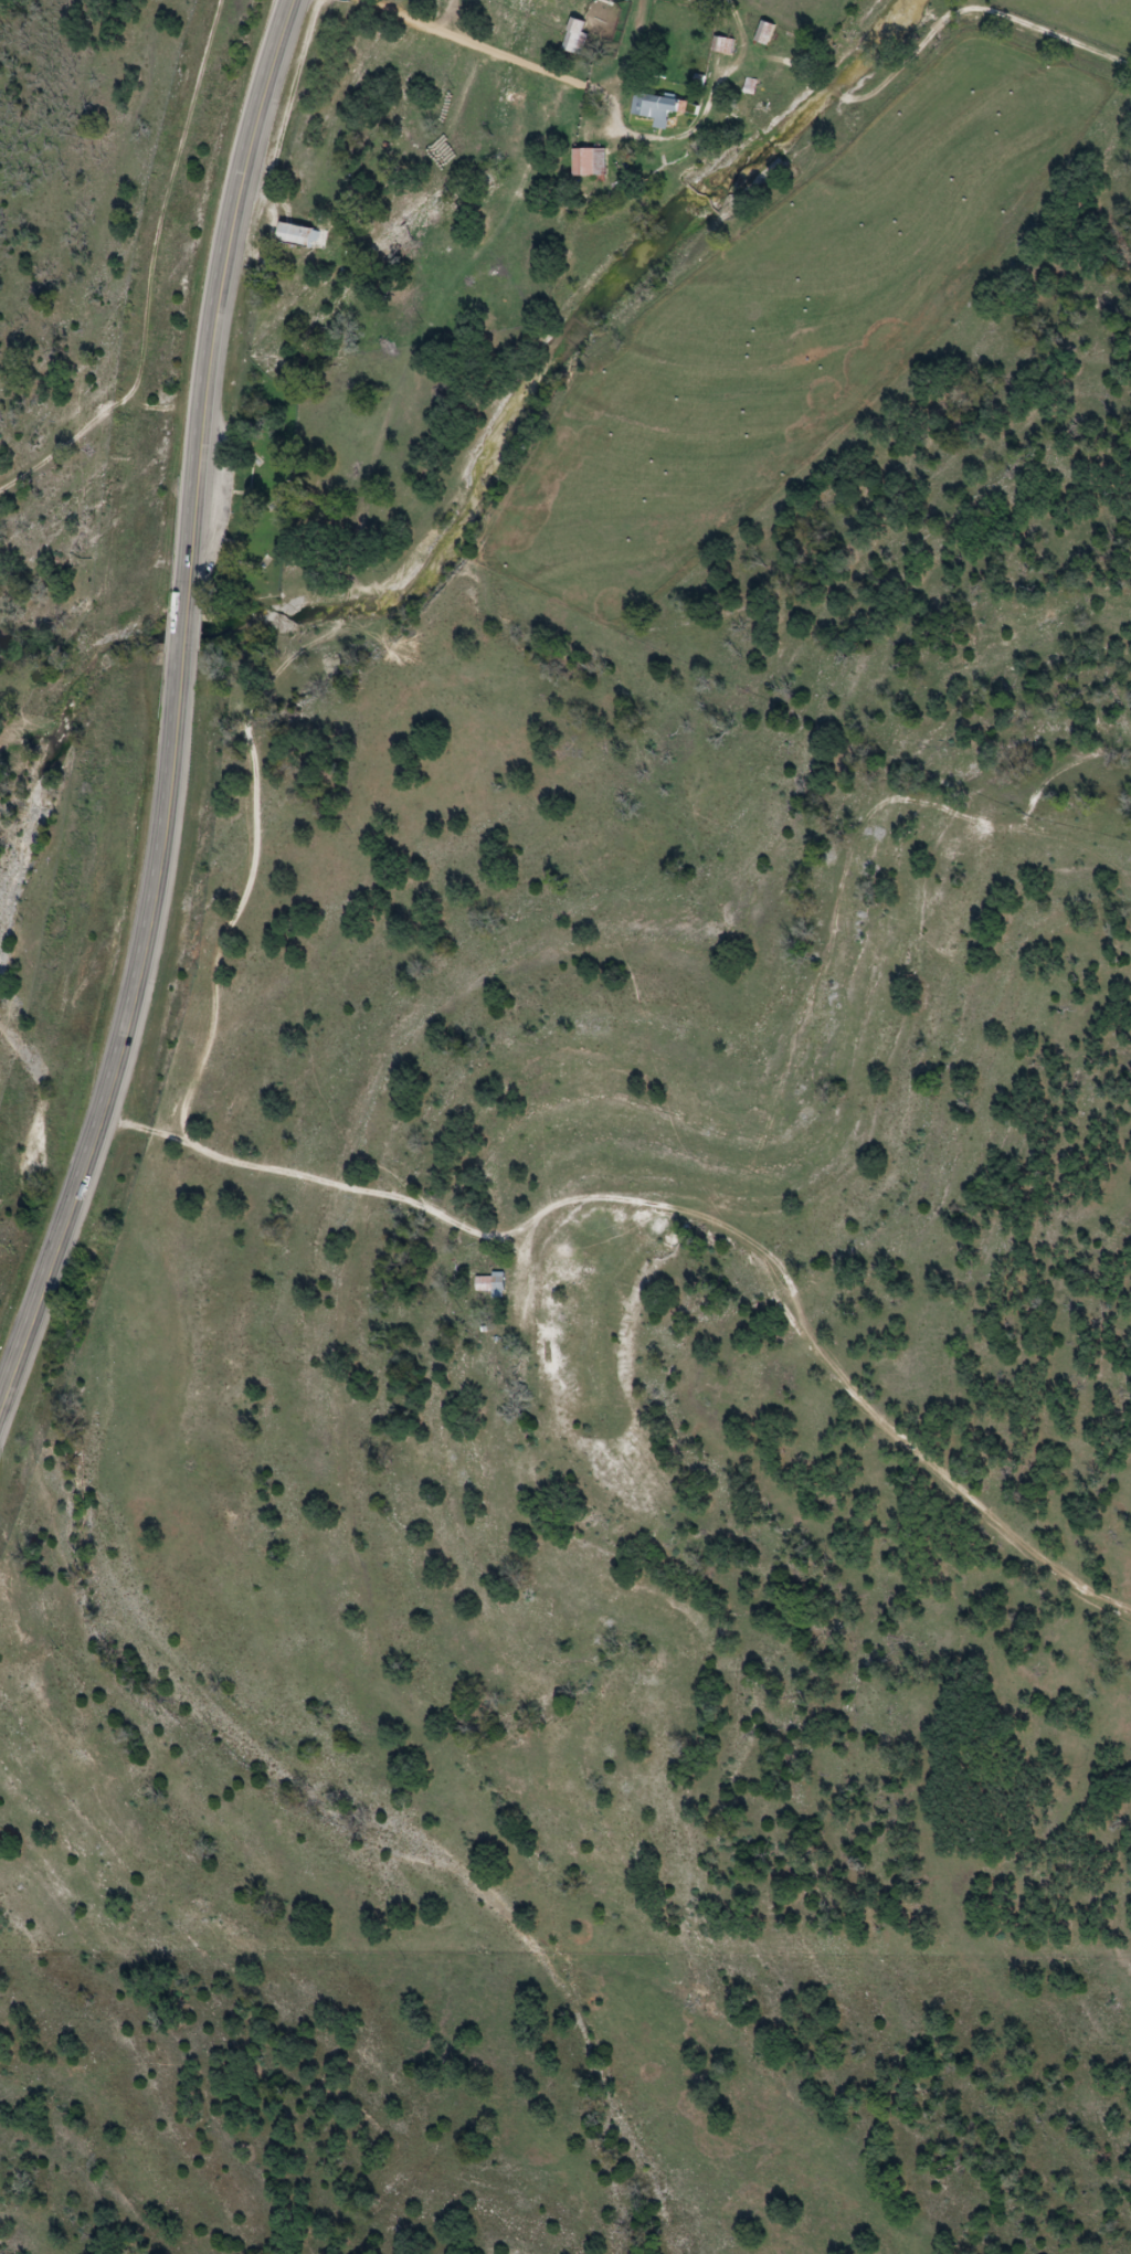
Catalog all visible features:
building: (770, 33)
building: (578, 36)
building: (728, 46)
road: (556, 75)
building: (662, 106)
building: (593, 163)
building: (300, 236)
road: (218, 299)
road: (180, 638)
road: (120, 1046)
road: (302, 1177)
building: (494, 1287)

